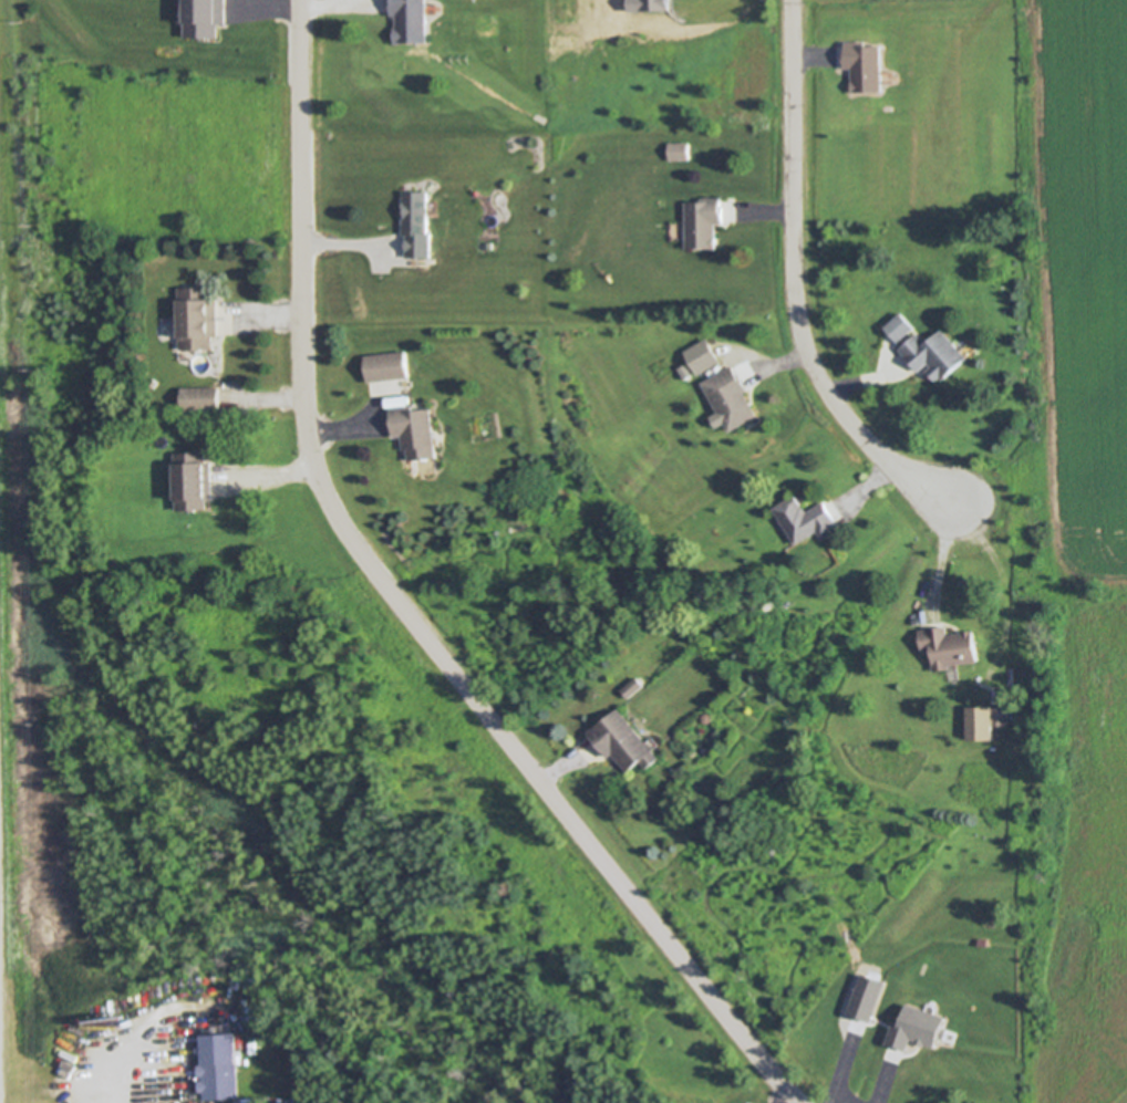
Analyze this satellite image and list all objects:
building: (644, 6)
building: (200, 19)
building: (411, 20)
building: (864, 65)
building: (680, 150)
building: (704, 222)
building: (417, 225)
building: (488, 246)
road: (795, 283)
building: (199, 318)
building: (900, 326)
building: (934, 354)
building: (697, 358)
building: (389, 365)
building: (732, 396)
building: (200, 397)
building: (415, 433)
building: (194, 481)
building: (805, 518)
road: (401, 606)
building: (949, 646)
building: (632, 687)
building: (707, 716)
building: (985, 721)
building: (623, 740)
building: (864, 1001)
building: (219, 1065)
road: (122, 1082)
road: (784, 1099)

